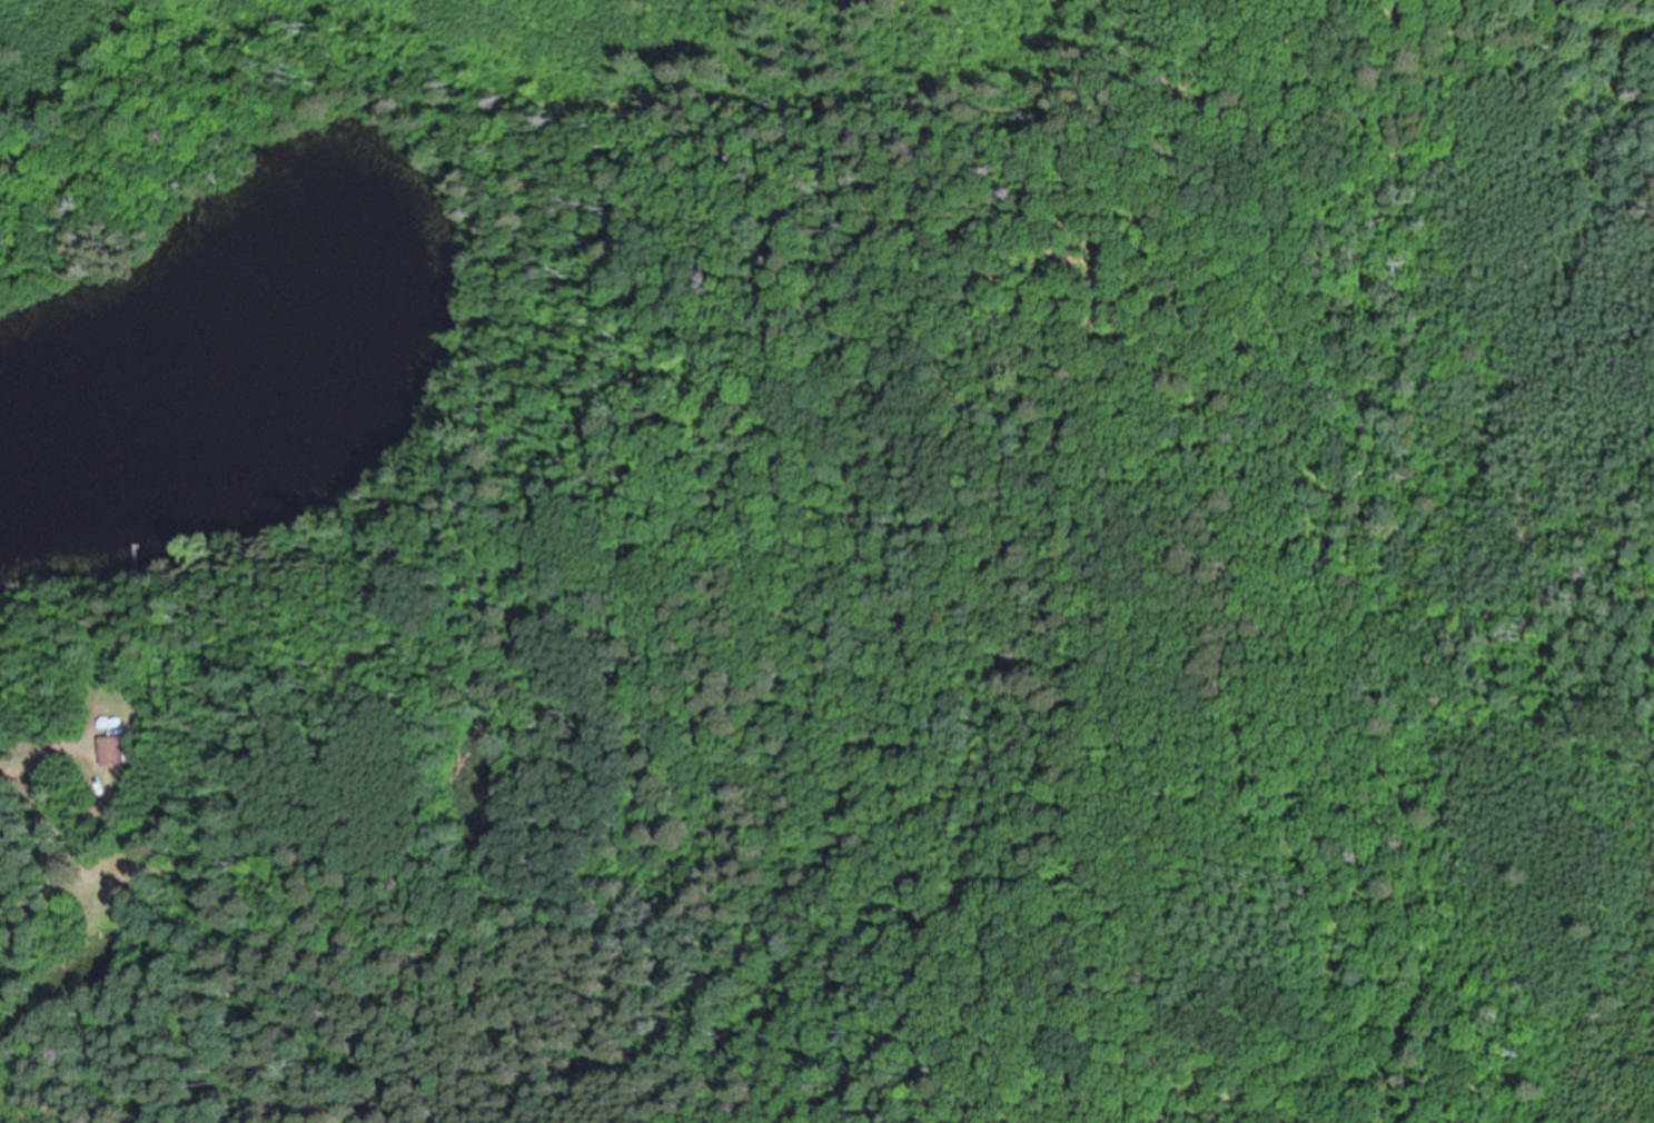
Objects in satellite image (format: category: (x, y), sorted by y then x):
building: (130, 749)
road: (40, 772)

